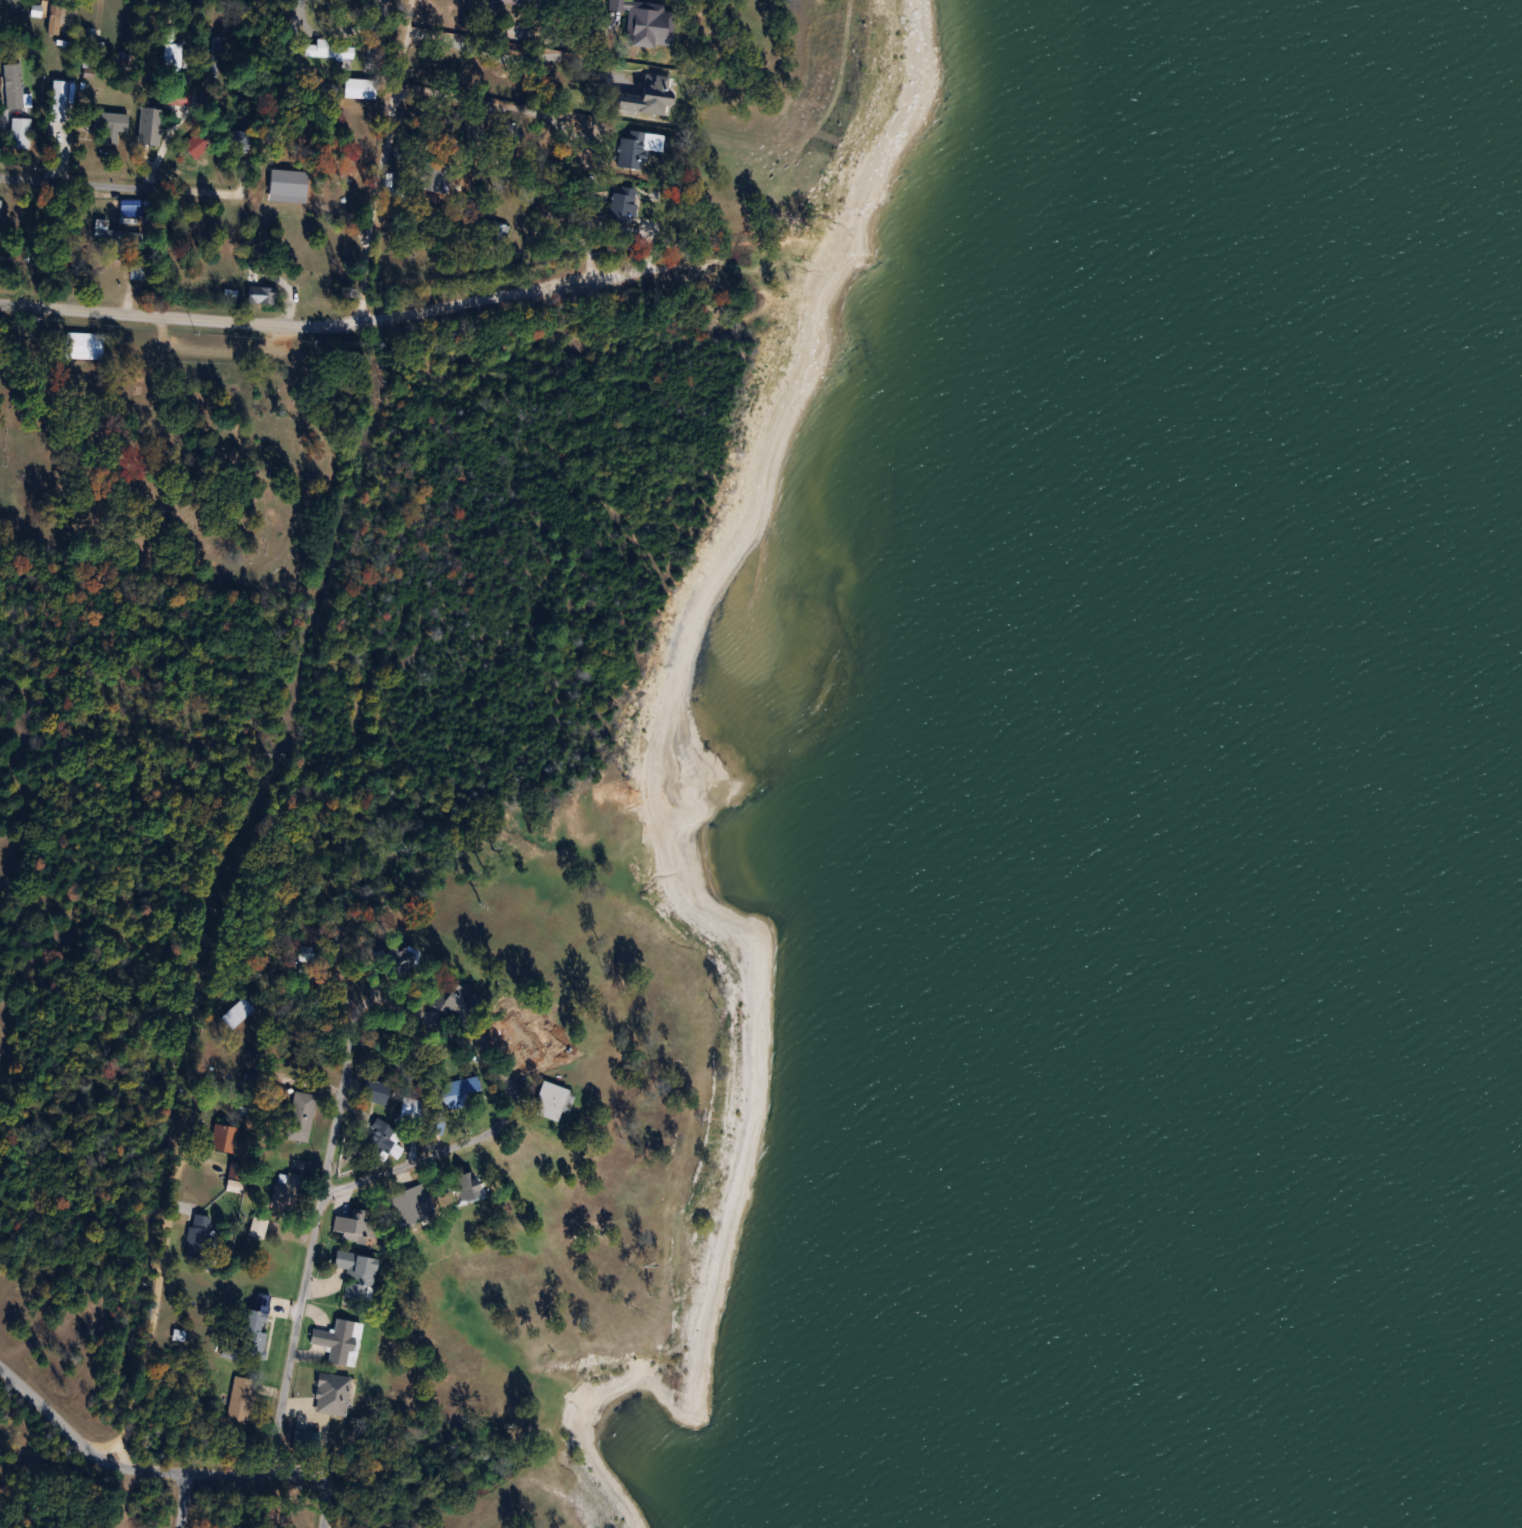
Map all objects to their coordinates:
building: (520, 2)
building: (62, 17)
road: (528, 17)
building: (647, 21)
building: (94, 34)
road: (518, 38)
building: (331, 49)
building: (176, 55)
building: (215, 56)
building: (16, 85)
building: (360, 87)
building: (647, 99)
building: (22, 131)
building: (237, 139)
building: (197, 144)
road: (386, 163)
building: (432, 174)
road: (117, 184)
building: (308, 188)
building: (1, 206)
building: (133, 210)
building: (500, 229)
building: (116, 233)
building: (2, 238)
building: (140, 272)
building: (263, 294)
road: (333, 325)
building: (85, 345)
park: (182, 460)
building: (308, 952)
building: (400, 959)
building: (458, 1001)
building: (532, 1045)
building: (377, 1089)
building: (459, 1090)
building: (552, 1100)
road: (341, 1103)
building: (303, 1109)
building: (226, 1137)
building: (377, 1137)
building: (236, 1170)
road: (384, 1173)
building: (471, 1185)
building: (287, 1194)
building: (410, 1206)
building: (356, 1224)
building: (260, 1227)
building: (200, 1237)
building: (359, 1273)
road: (153, 1310)
building: (257, 1330)
building: (242, 1399)
building: (308, 1438)
road: (147, 1469)
road: (183, 1500)
road: (328, 1503)
building: (375, 1527)

